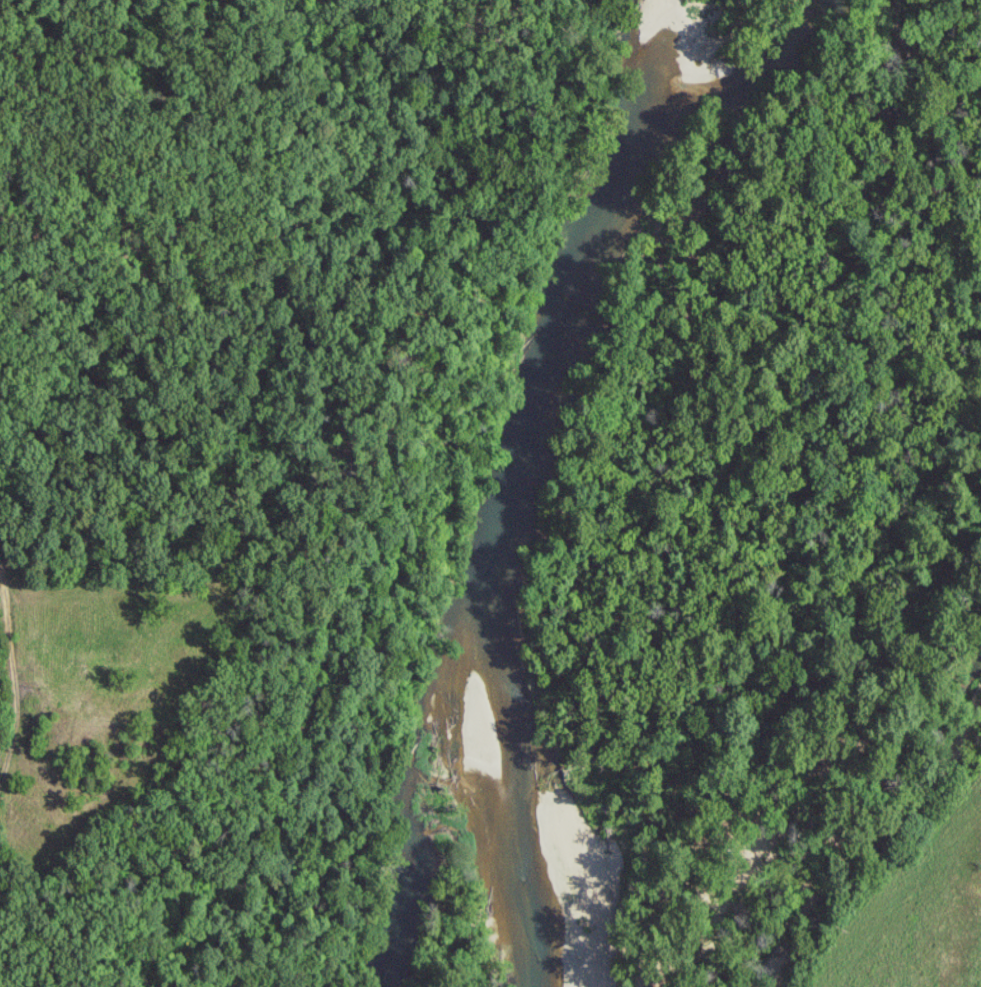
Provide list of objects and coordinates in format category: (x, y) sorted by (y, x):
river: (502, 494)
road: (19, 678)

